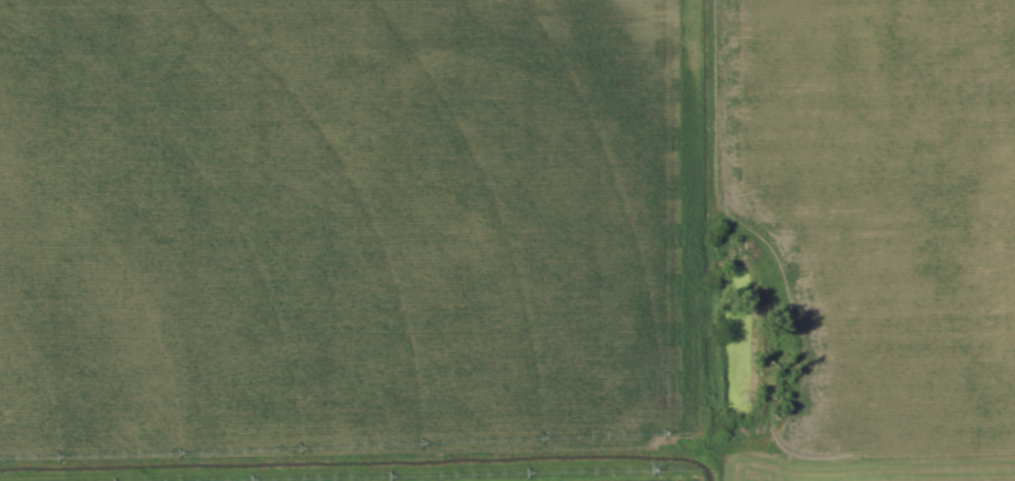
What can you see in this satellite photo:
crop: (886, 200)
crop: (348, 226)
crop: (712, 476)

